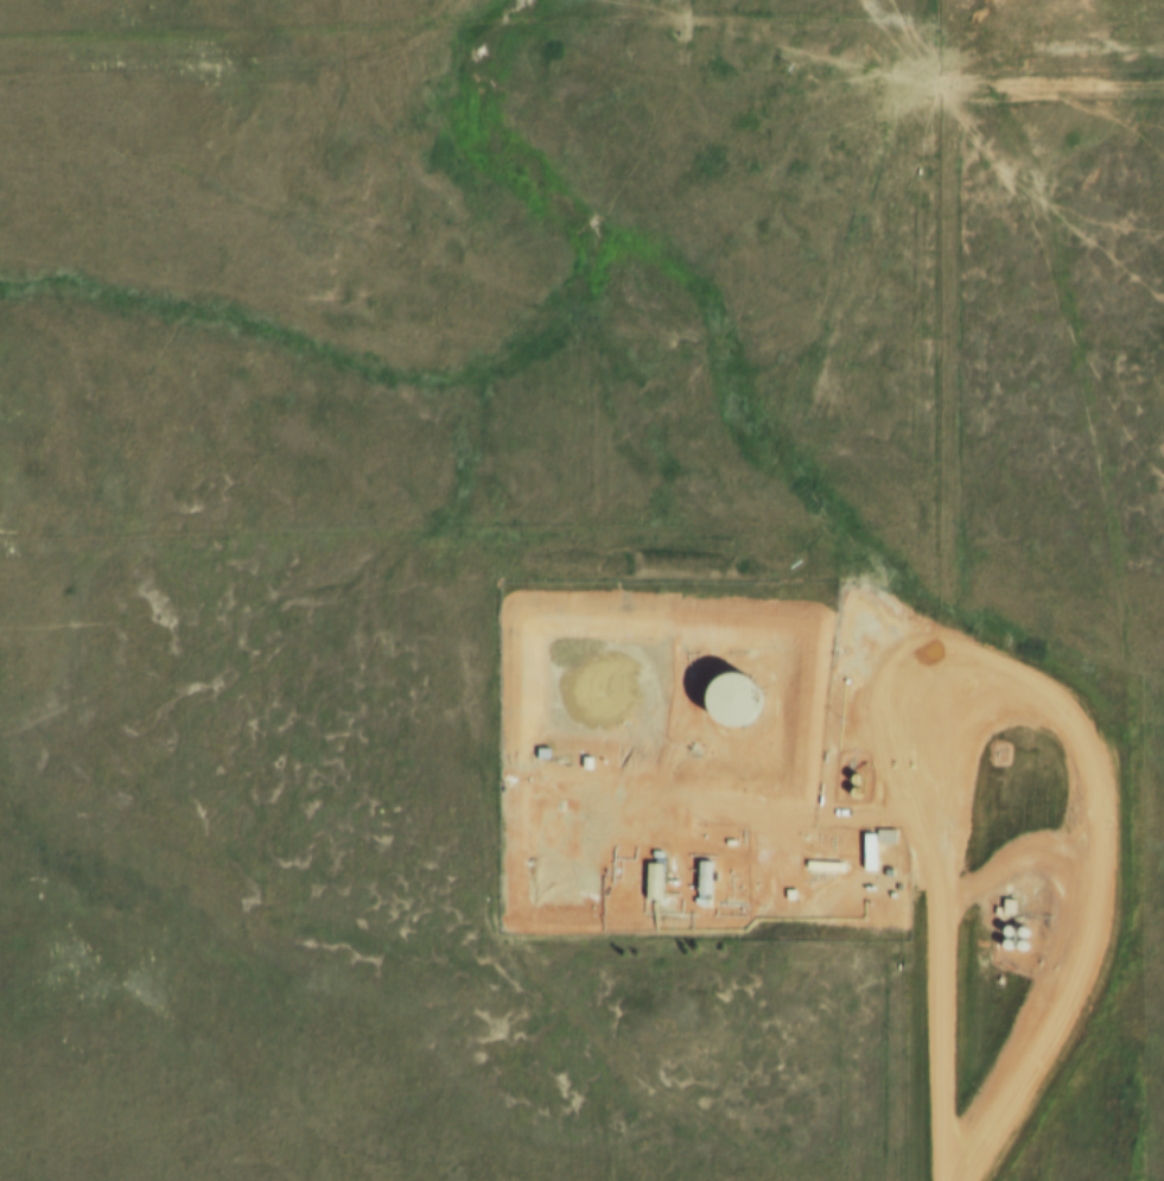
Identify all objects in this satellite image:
road: (899, 77)
road: (946, 383)
building: (879, 849)
building: (1012, 908)
road: (940, 922)

